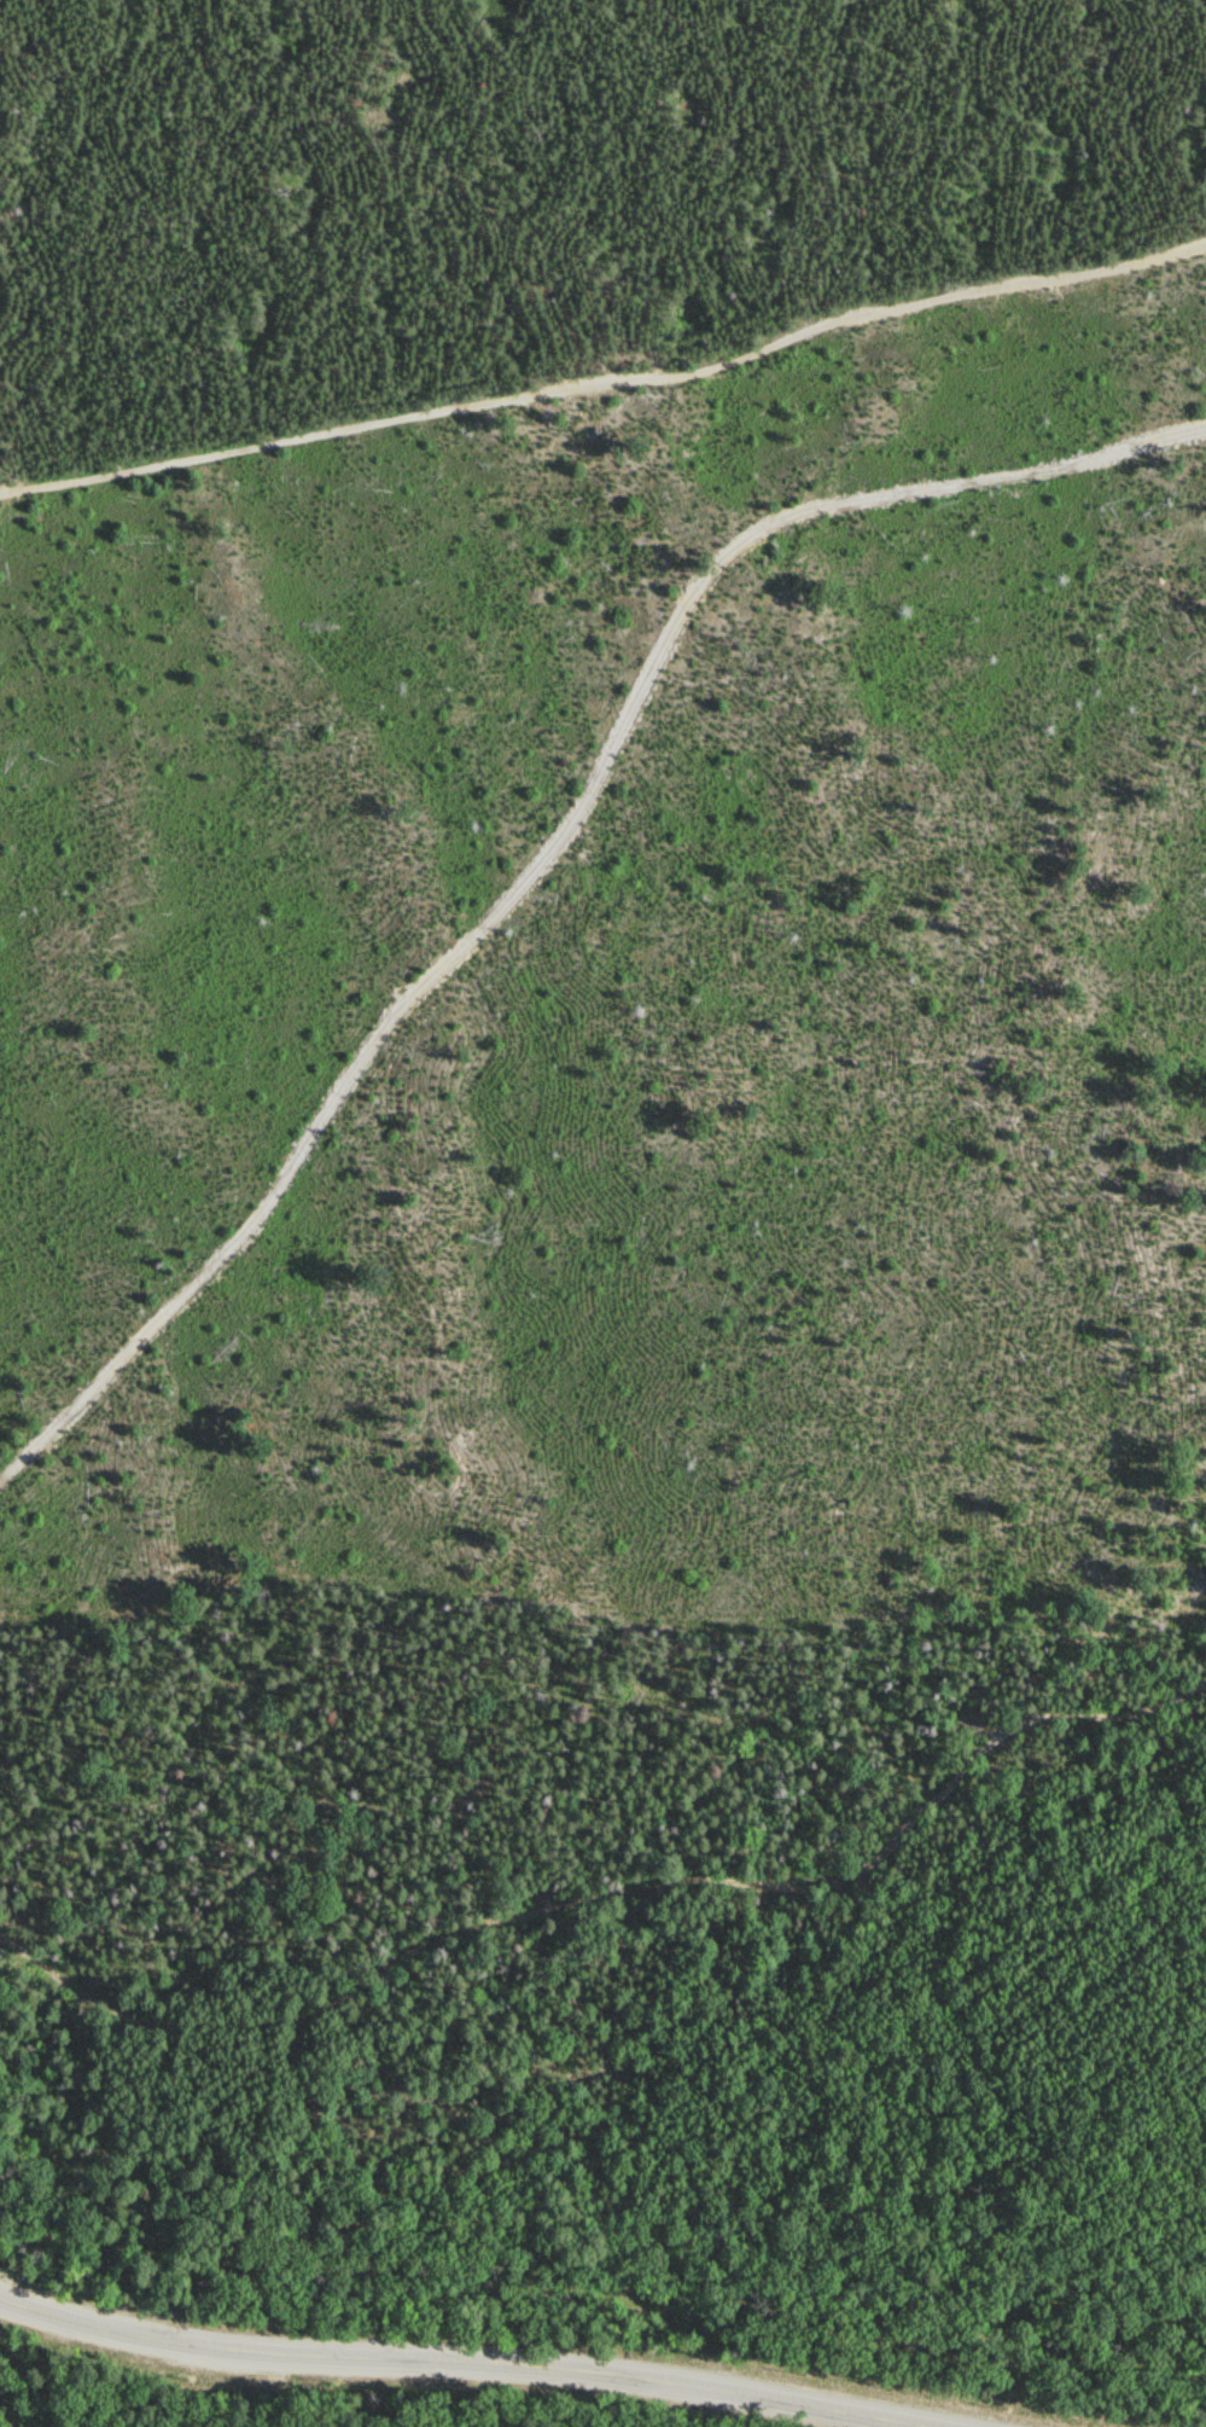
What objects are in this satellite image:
road: (606, 382)
road: (555, 830)
road: (473, 2361)

